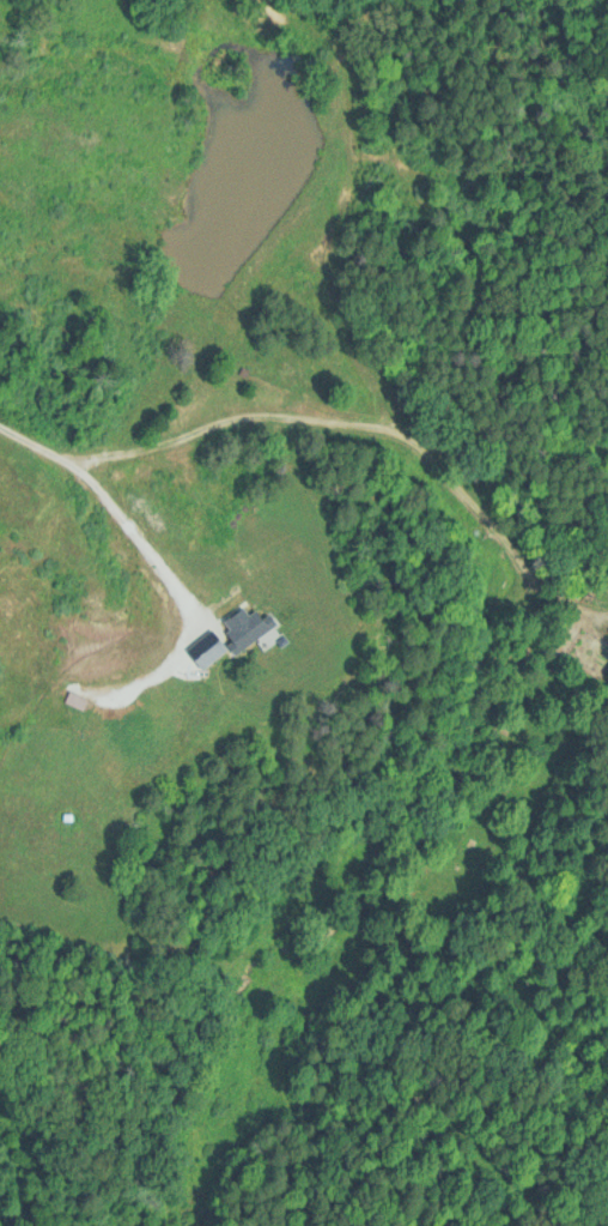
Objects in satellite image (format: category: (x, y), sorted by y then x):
road: (233, 413)

